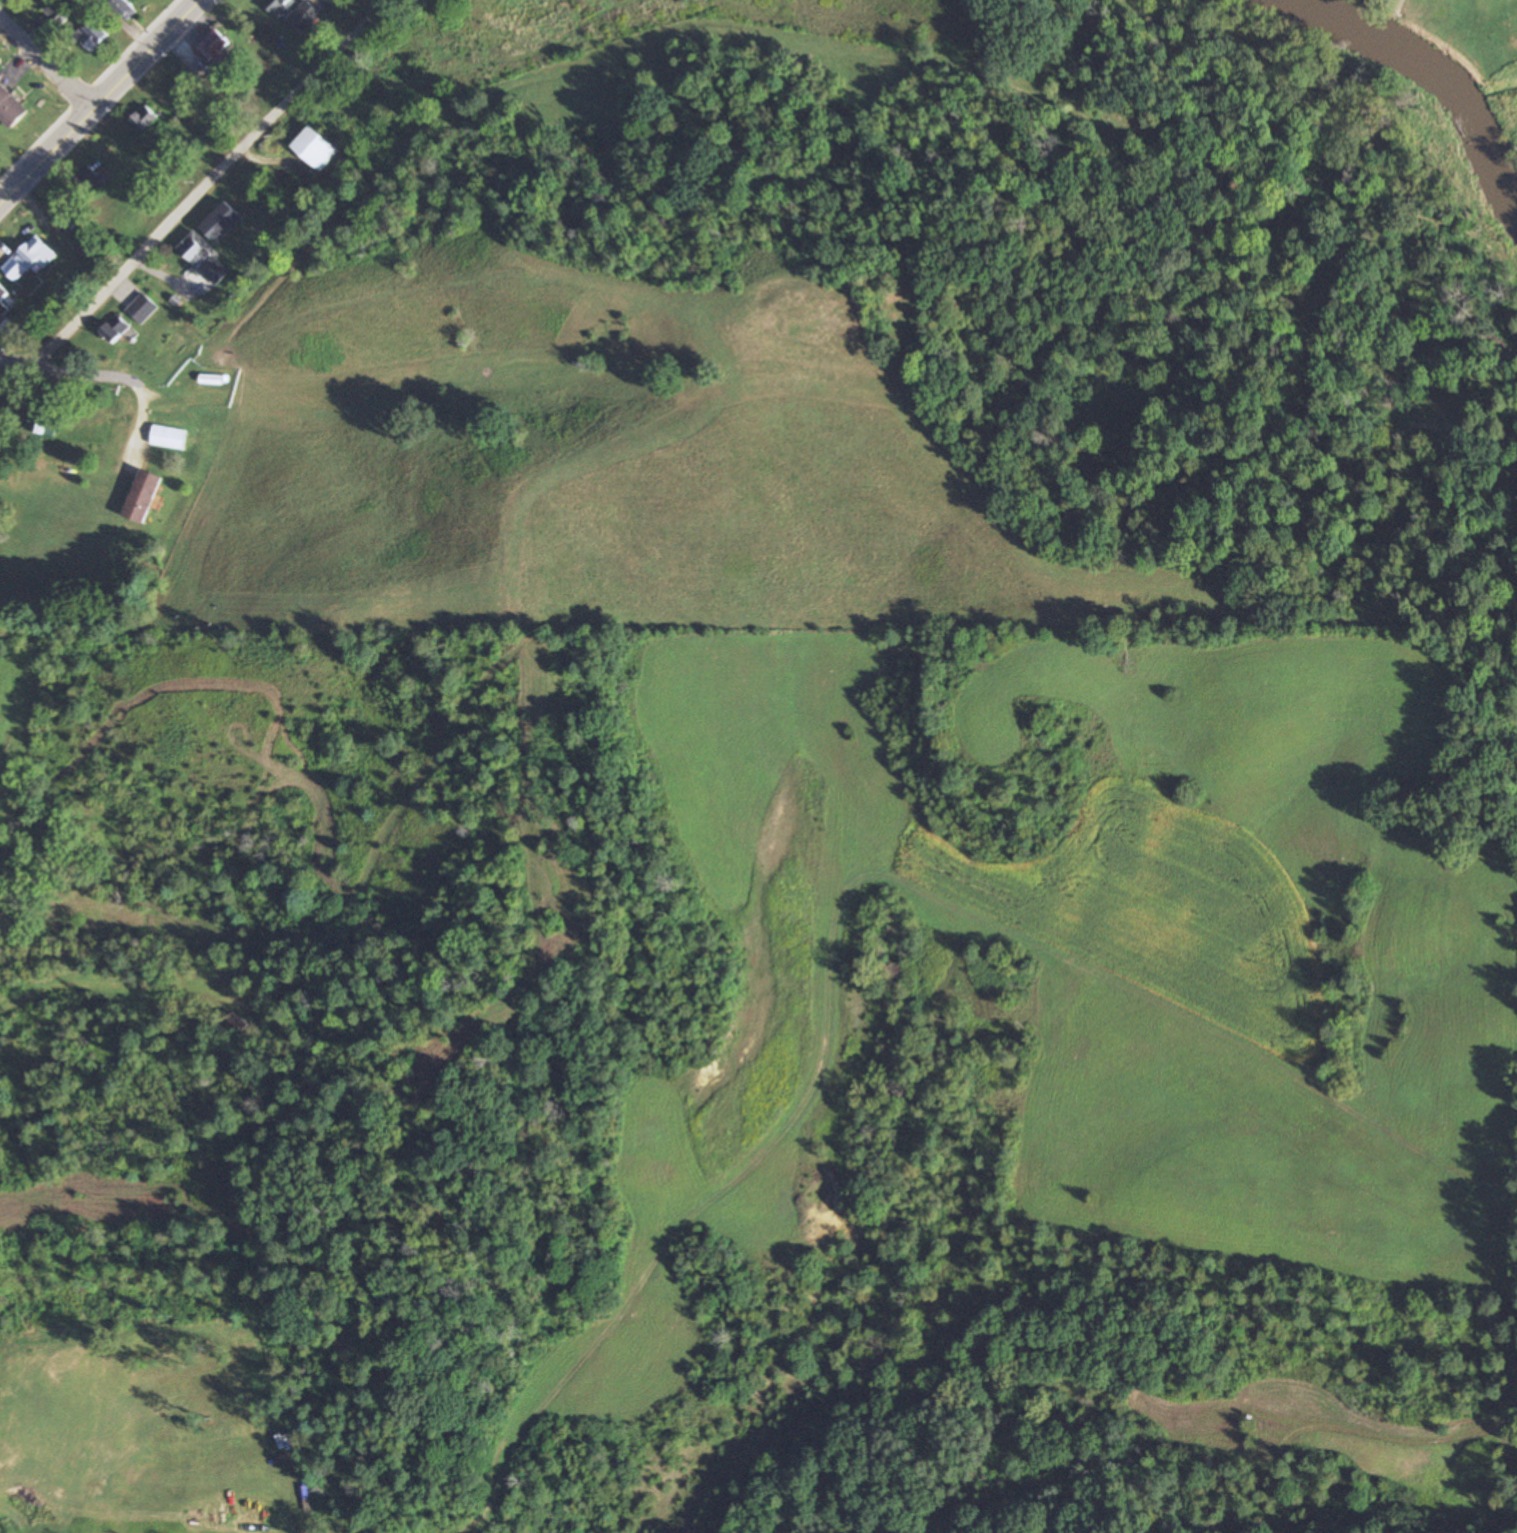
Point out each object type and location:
building: (278, 6)
building: (121, 8)
building: (56, 13)
building: (303, 17)
park: (1461, 31)
building: (91, 36)
building: (212, 49)
road: (44, 65)
river: (1437, 70)
road: (97, 100)
building: (10, 108)
building: (143, 118)
building: (314, 148)
building: (87, 179)
road: (211, 181)
building: (29, 259)
building: (204, 259)
building: (2, 297)
building: (142, 307)
building: (115, 328)
road: (64, 374)
building: (213, 379)
building: (168, 437)
building: (142, 496)

